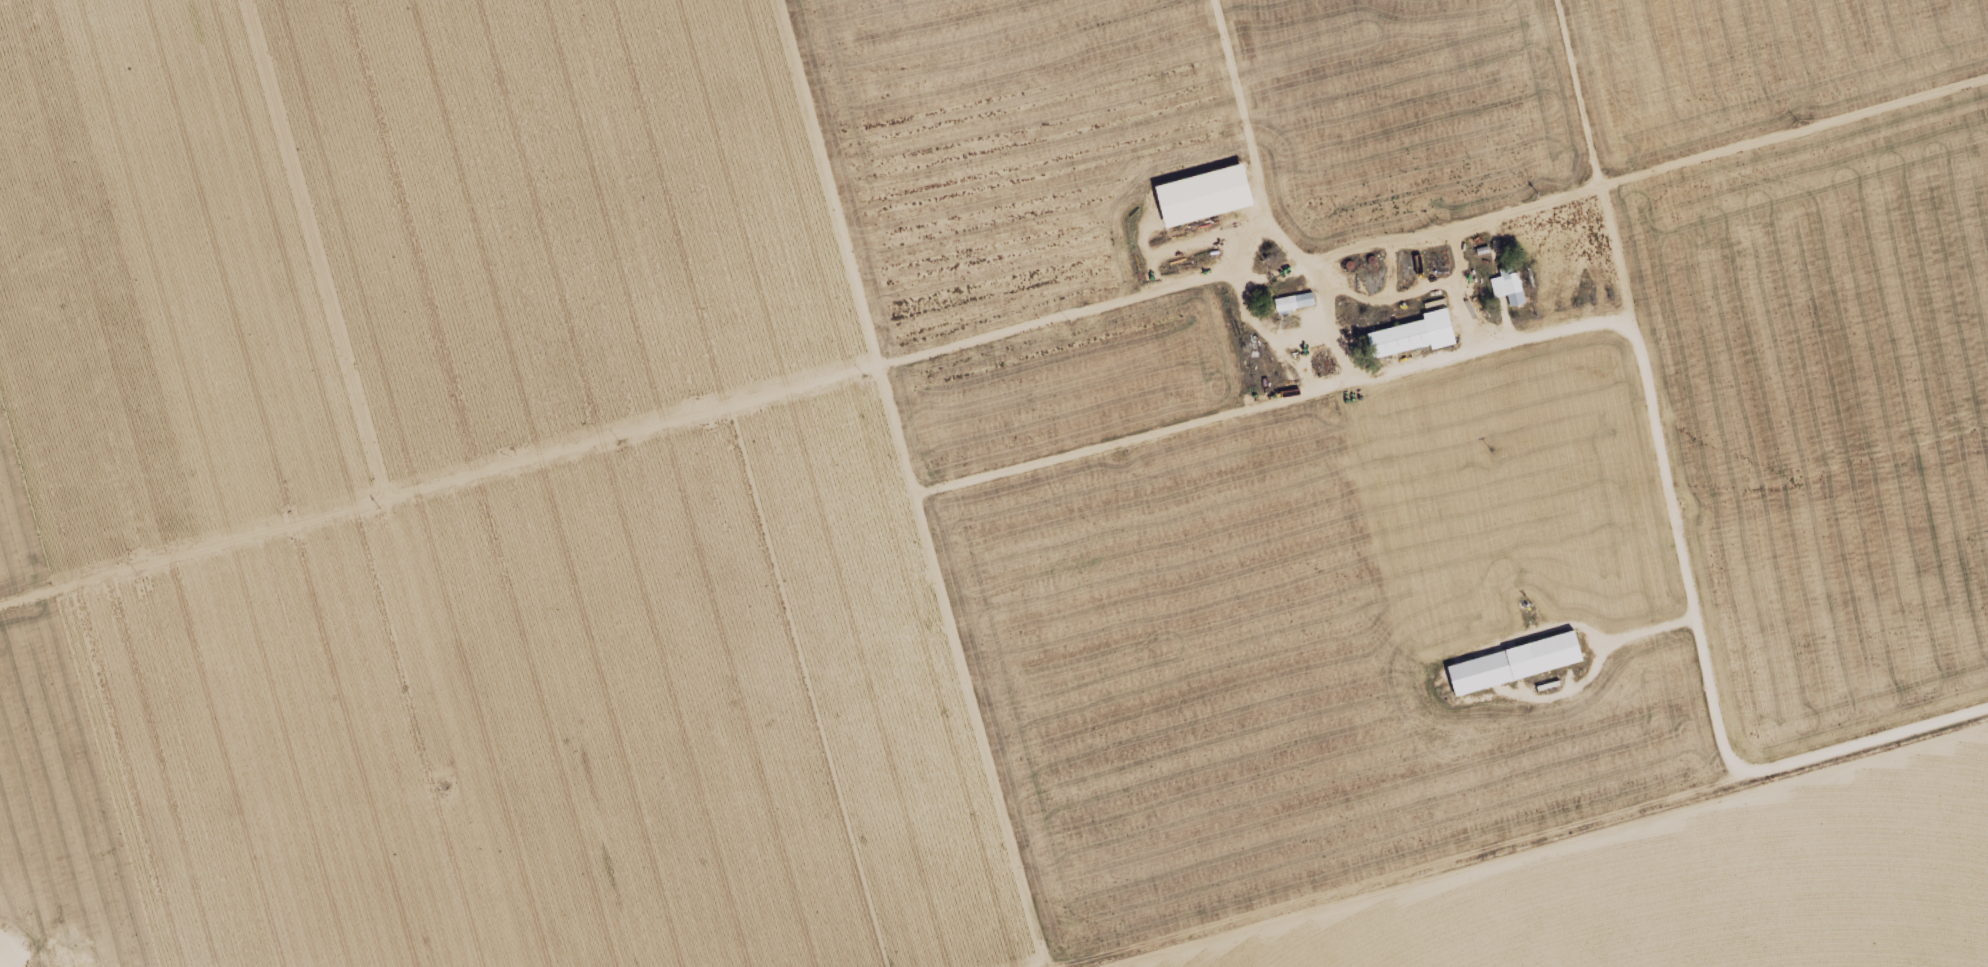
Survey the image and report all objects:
building: (1513, 287)
building: (1290, 301)
building: (1417, 333)
road: (897, 483)
building: (1519, 661)

